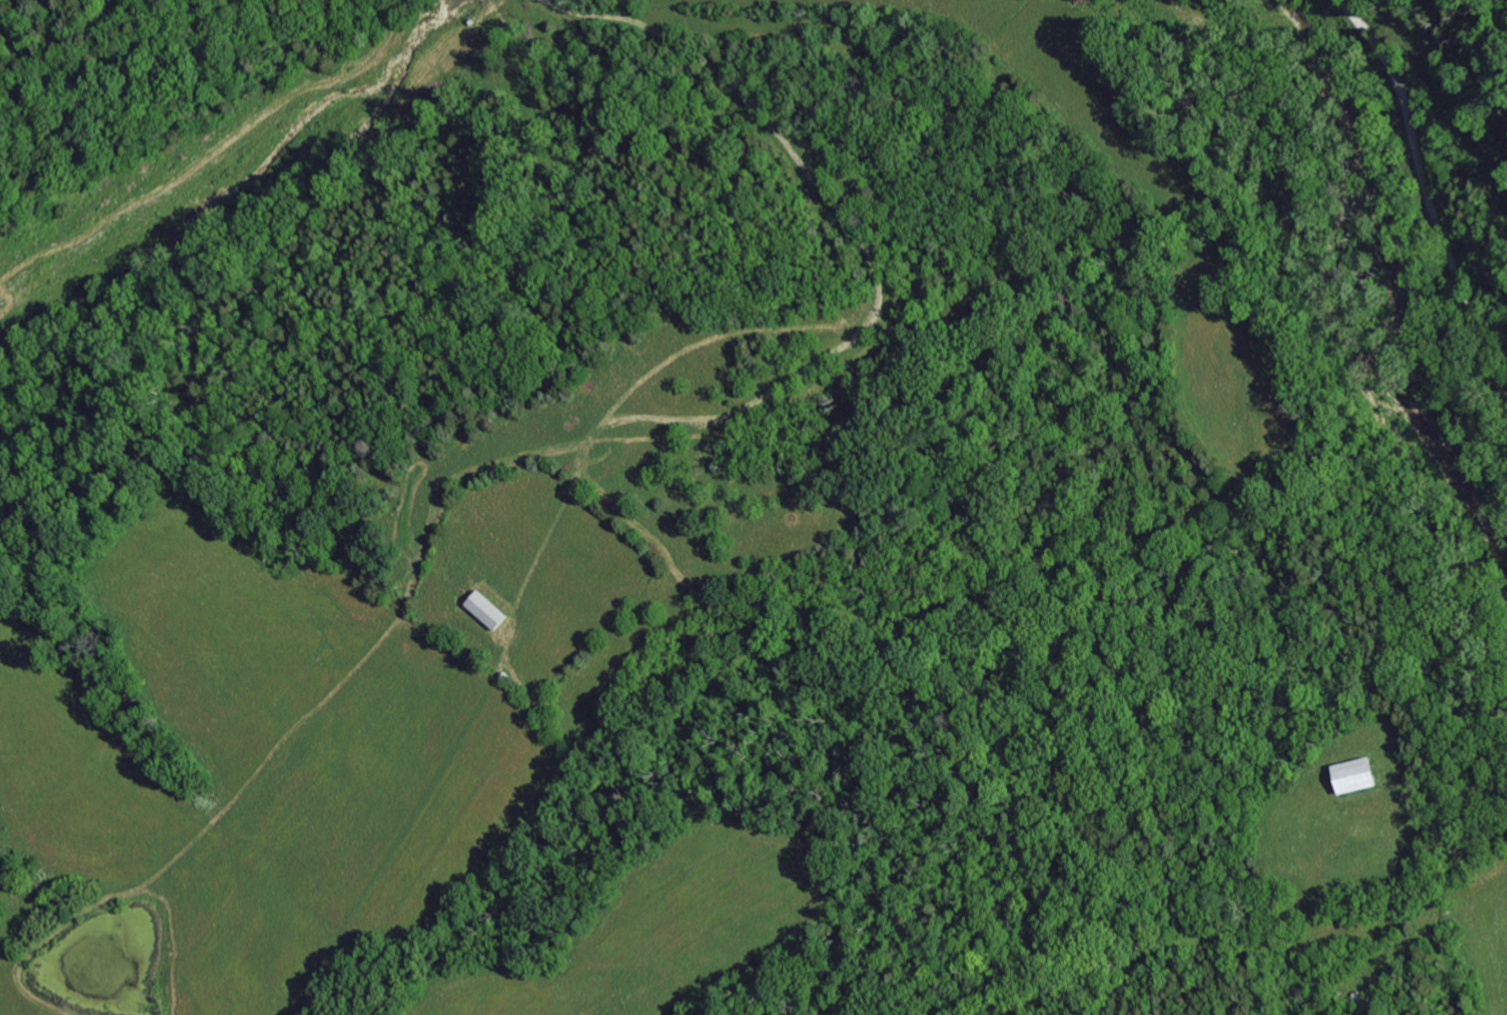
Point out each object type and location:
road: (1425, 203)

